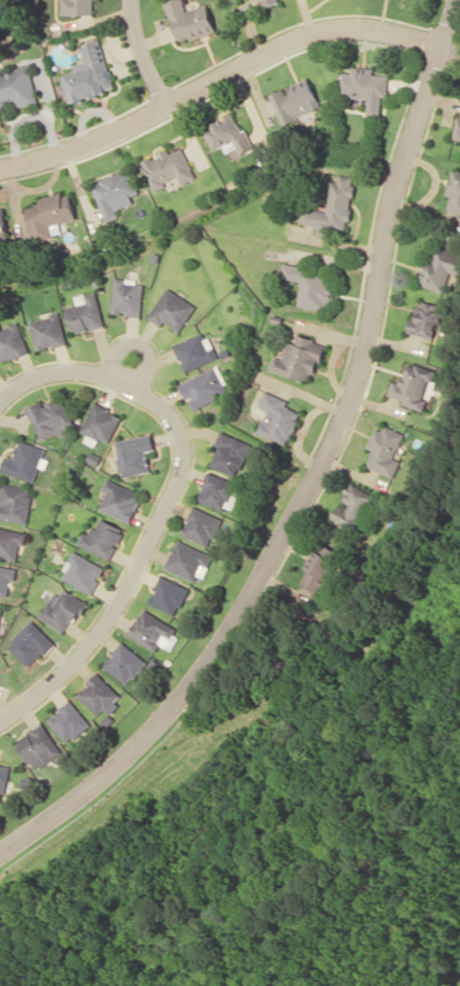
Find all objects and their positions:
building: (272, 2)
building: (78, 7)
building: (190, 19)
road: (145, 51)
road: (225, 71)
building: (89, 75)
building: (367, 87)
building: (16, 89)
building: (297, 101)
building: (457, 129)
building: (228, 133)
building: (169, 167)
building: (455, 192)
building: (115, 193)
building: (333, 208)
building: (51, 214)
building: (440, 268)
building: (313, 286)
building: (128, 296)
building: (172, 310)
building: (85, 312)
building: (427, 318)
building: (49, 331)
building: (12, 341)
building: (194, 351)
building: (300, 359)
building: (414, 385)
building: (203, 387)
building: (50, 417)
building: (278, 417)
building: (100, 424)
building: (386, 450)
building: (229, 453)
building: (134, 454)
building: (26, 460)
road: (313, 476)
building: (218, 491)
road: (167, 498)
building: (120, 500)
building: (15, 503)
building: (355, 507)
building: (201, 525)
building: (102, 538)
building: (11, 542)
building: (189, 561)
building: (320, 568)
building: (83, 572)
building: (6, 578)
building: (169, 595)
building: (62, 609)
building: (0, 613)
building: (153, 630)
building: (31, 643)
building: (125, 663)
building: (99, 694)
building: (69, 720)
building: (39, 746)
building: (3, 780)

